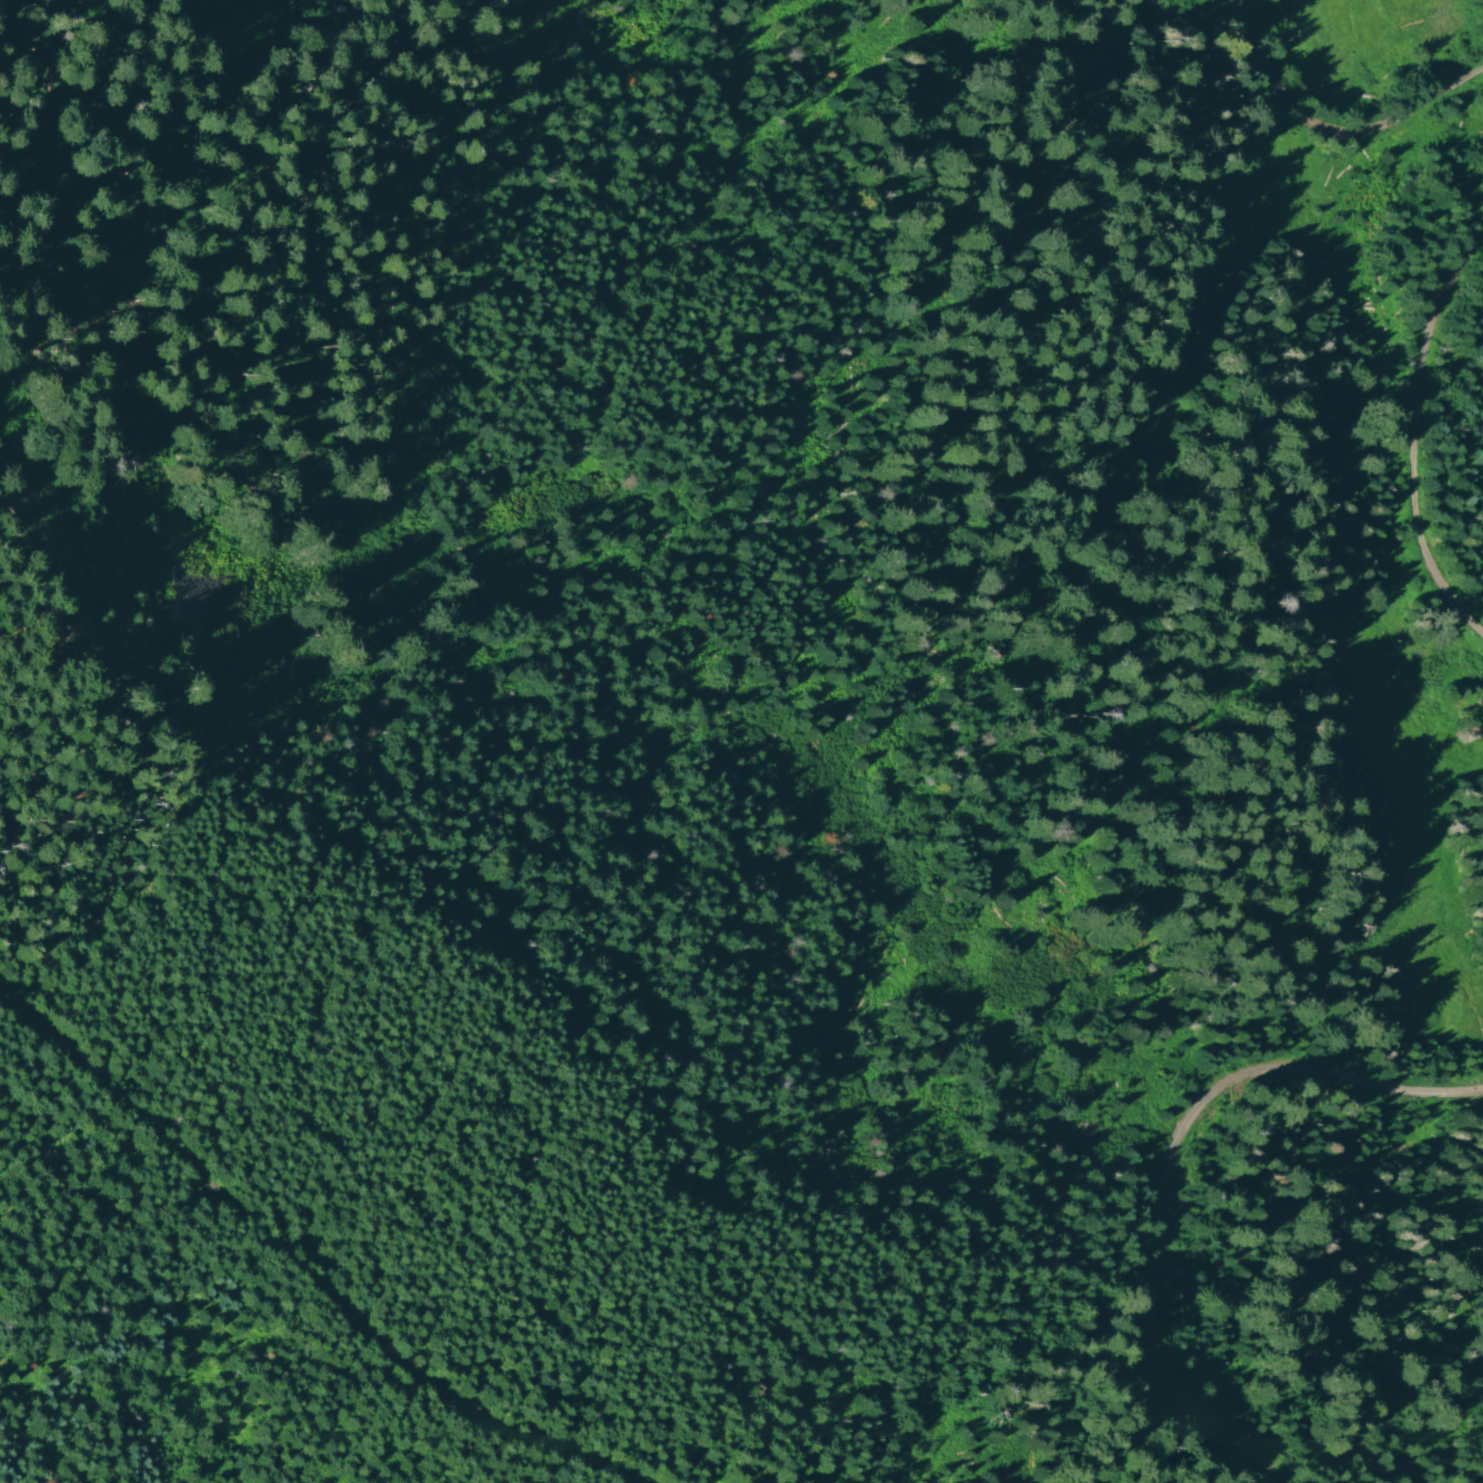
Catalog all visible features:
road: (1331, 131)
road: (1407, 430)
road: (1175, 1169)
road: (299, 1253)

